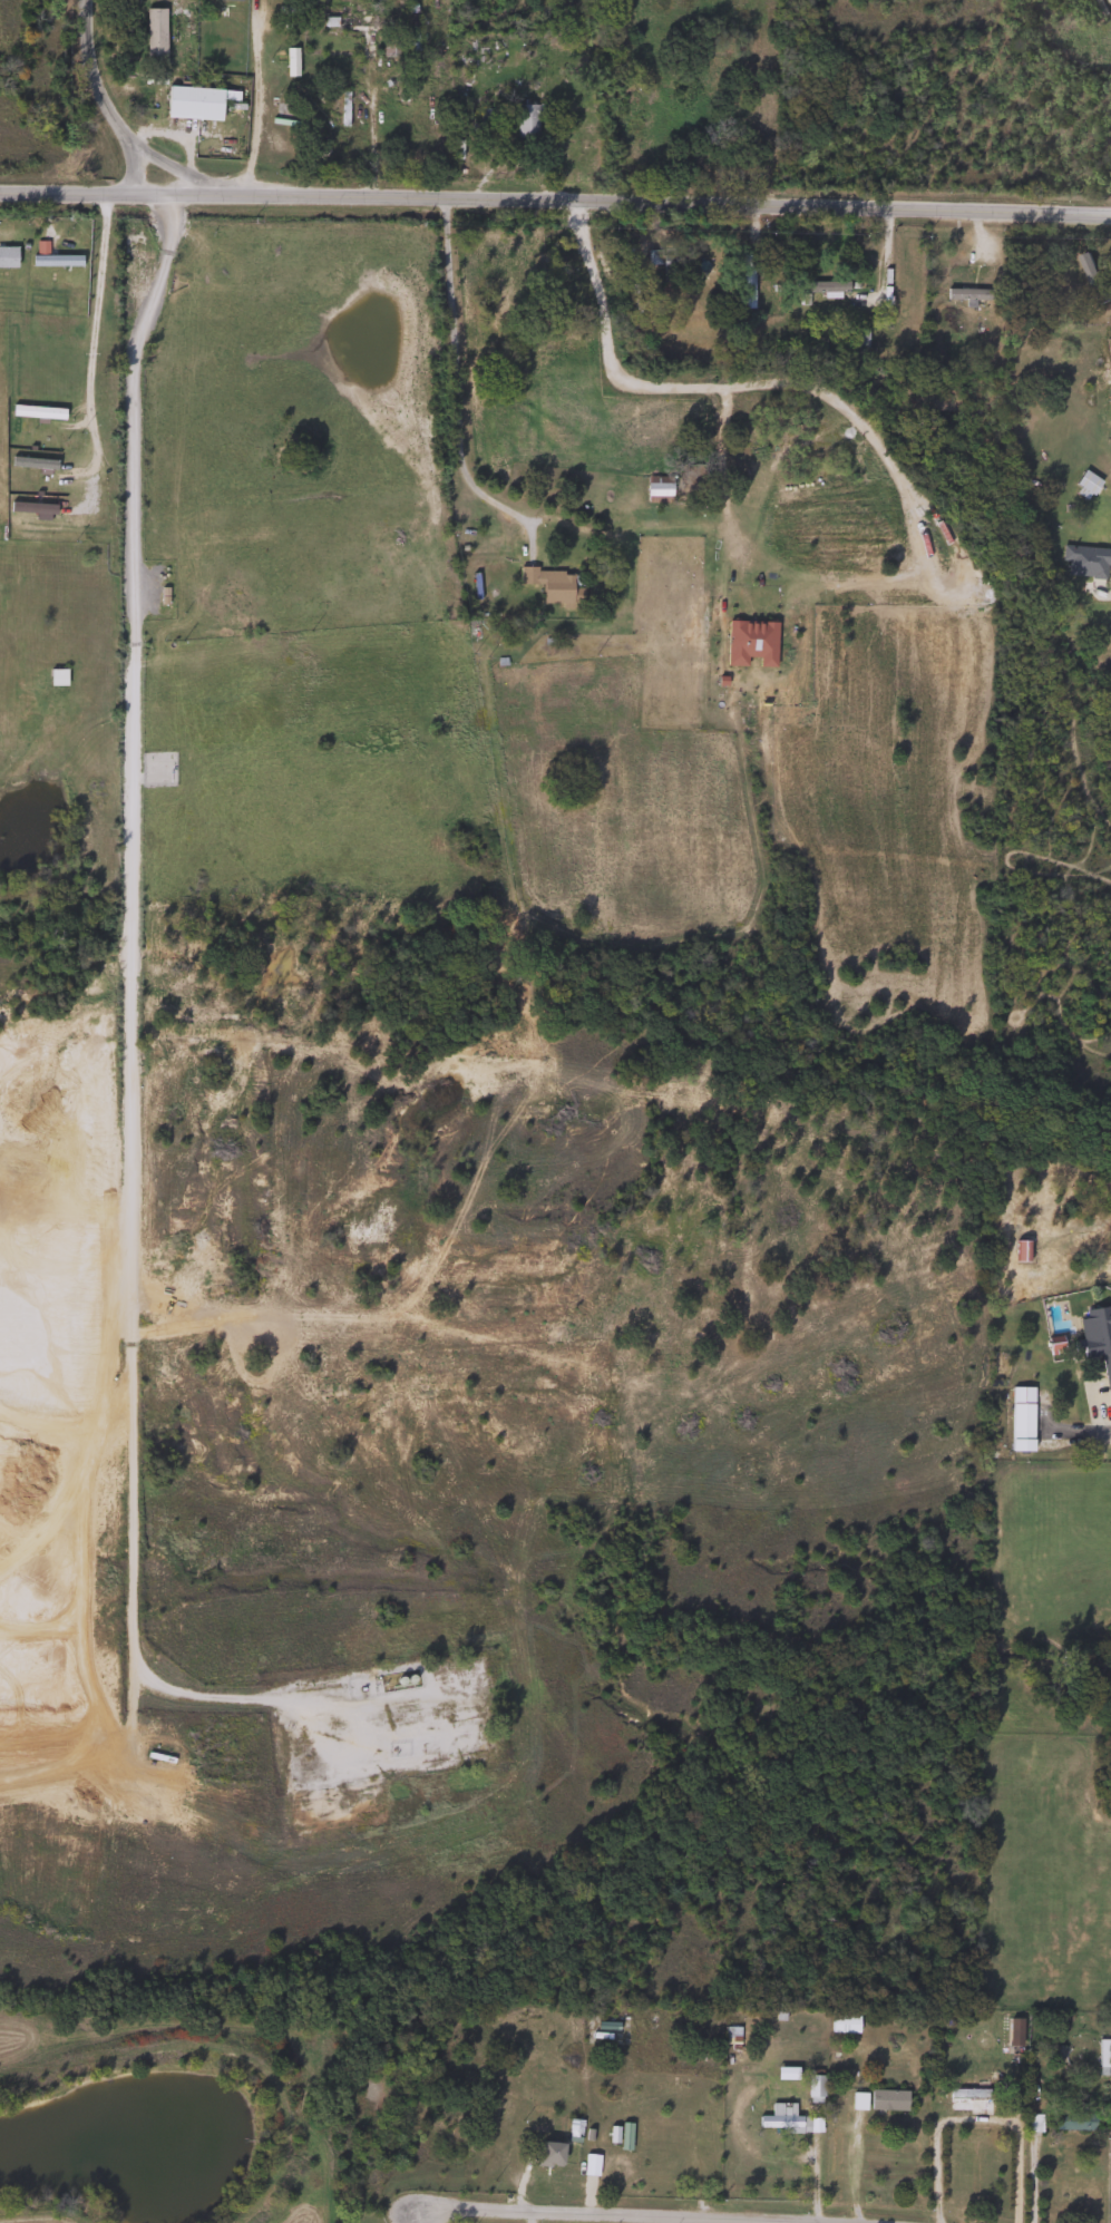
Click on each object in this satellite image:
building: (348, 23)
building: (411, 29)
building: (154, 36)
road: (255, 101)
building: (196, 103)
road: (101, 104)
building: (526, 121)
road: (555, 191)
road: (885, 261)
building: (662, 263)
building: (1086, 269)
building: (744, 281)
building: (817, 291)
building: (969, 295)
road: (94, 302)
road: (456, 374)
road: (744, 386)
road: (719, 471)
building: (656, 491)
building: (1081, 562)
building: (555, 586)
building: (56, 677)
road: (128, 1039)
building: (1021, 1250)
building: (1095, 1333)
building: (1021, 1417)
road: (1080, 1432)
building: (842, 2024)
building: (812, 2088)
building: (967, 2096)
building: (856, 2100)
building: (887, 2100)
building: (780, 2118)
road: (972, 2118)
building: (1031, 2123)
building: (1074, 2123)
building: (547, 2154)
road: (1032, 2180)
road: (621, 2215)

